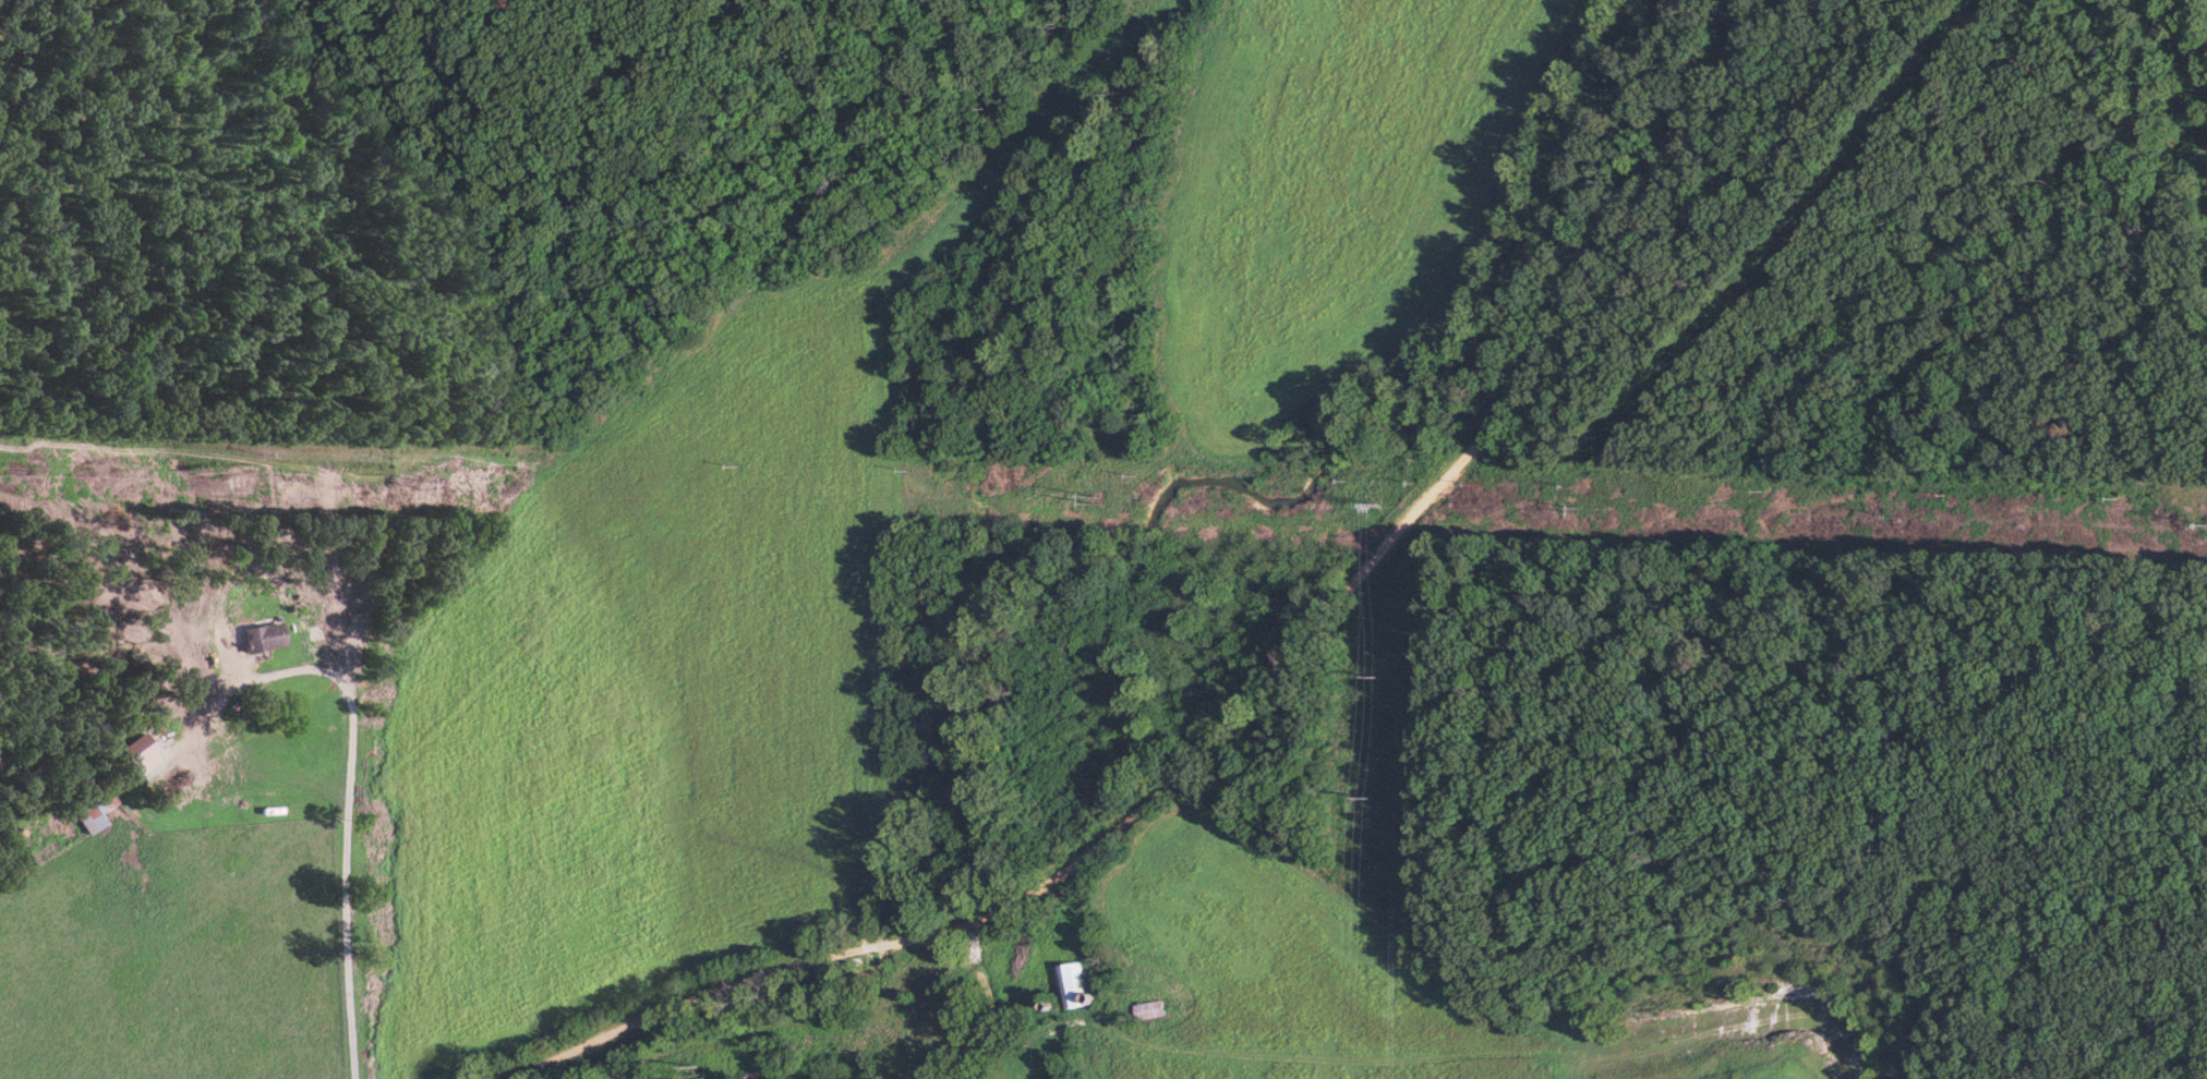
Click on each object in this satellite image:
building: (245, 640)
road: (1262, 684)
building: (94, 813)
road: (343, 825)
building: (1073, 986)
road: (977, 991)
building: (1149, 1010)

